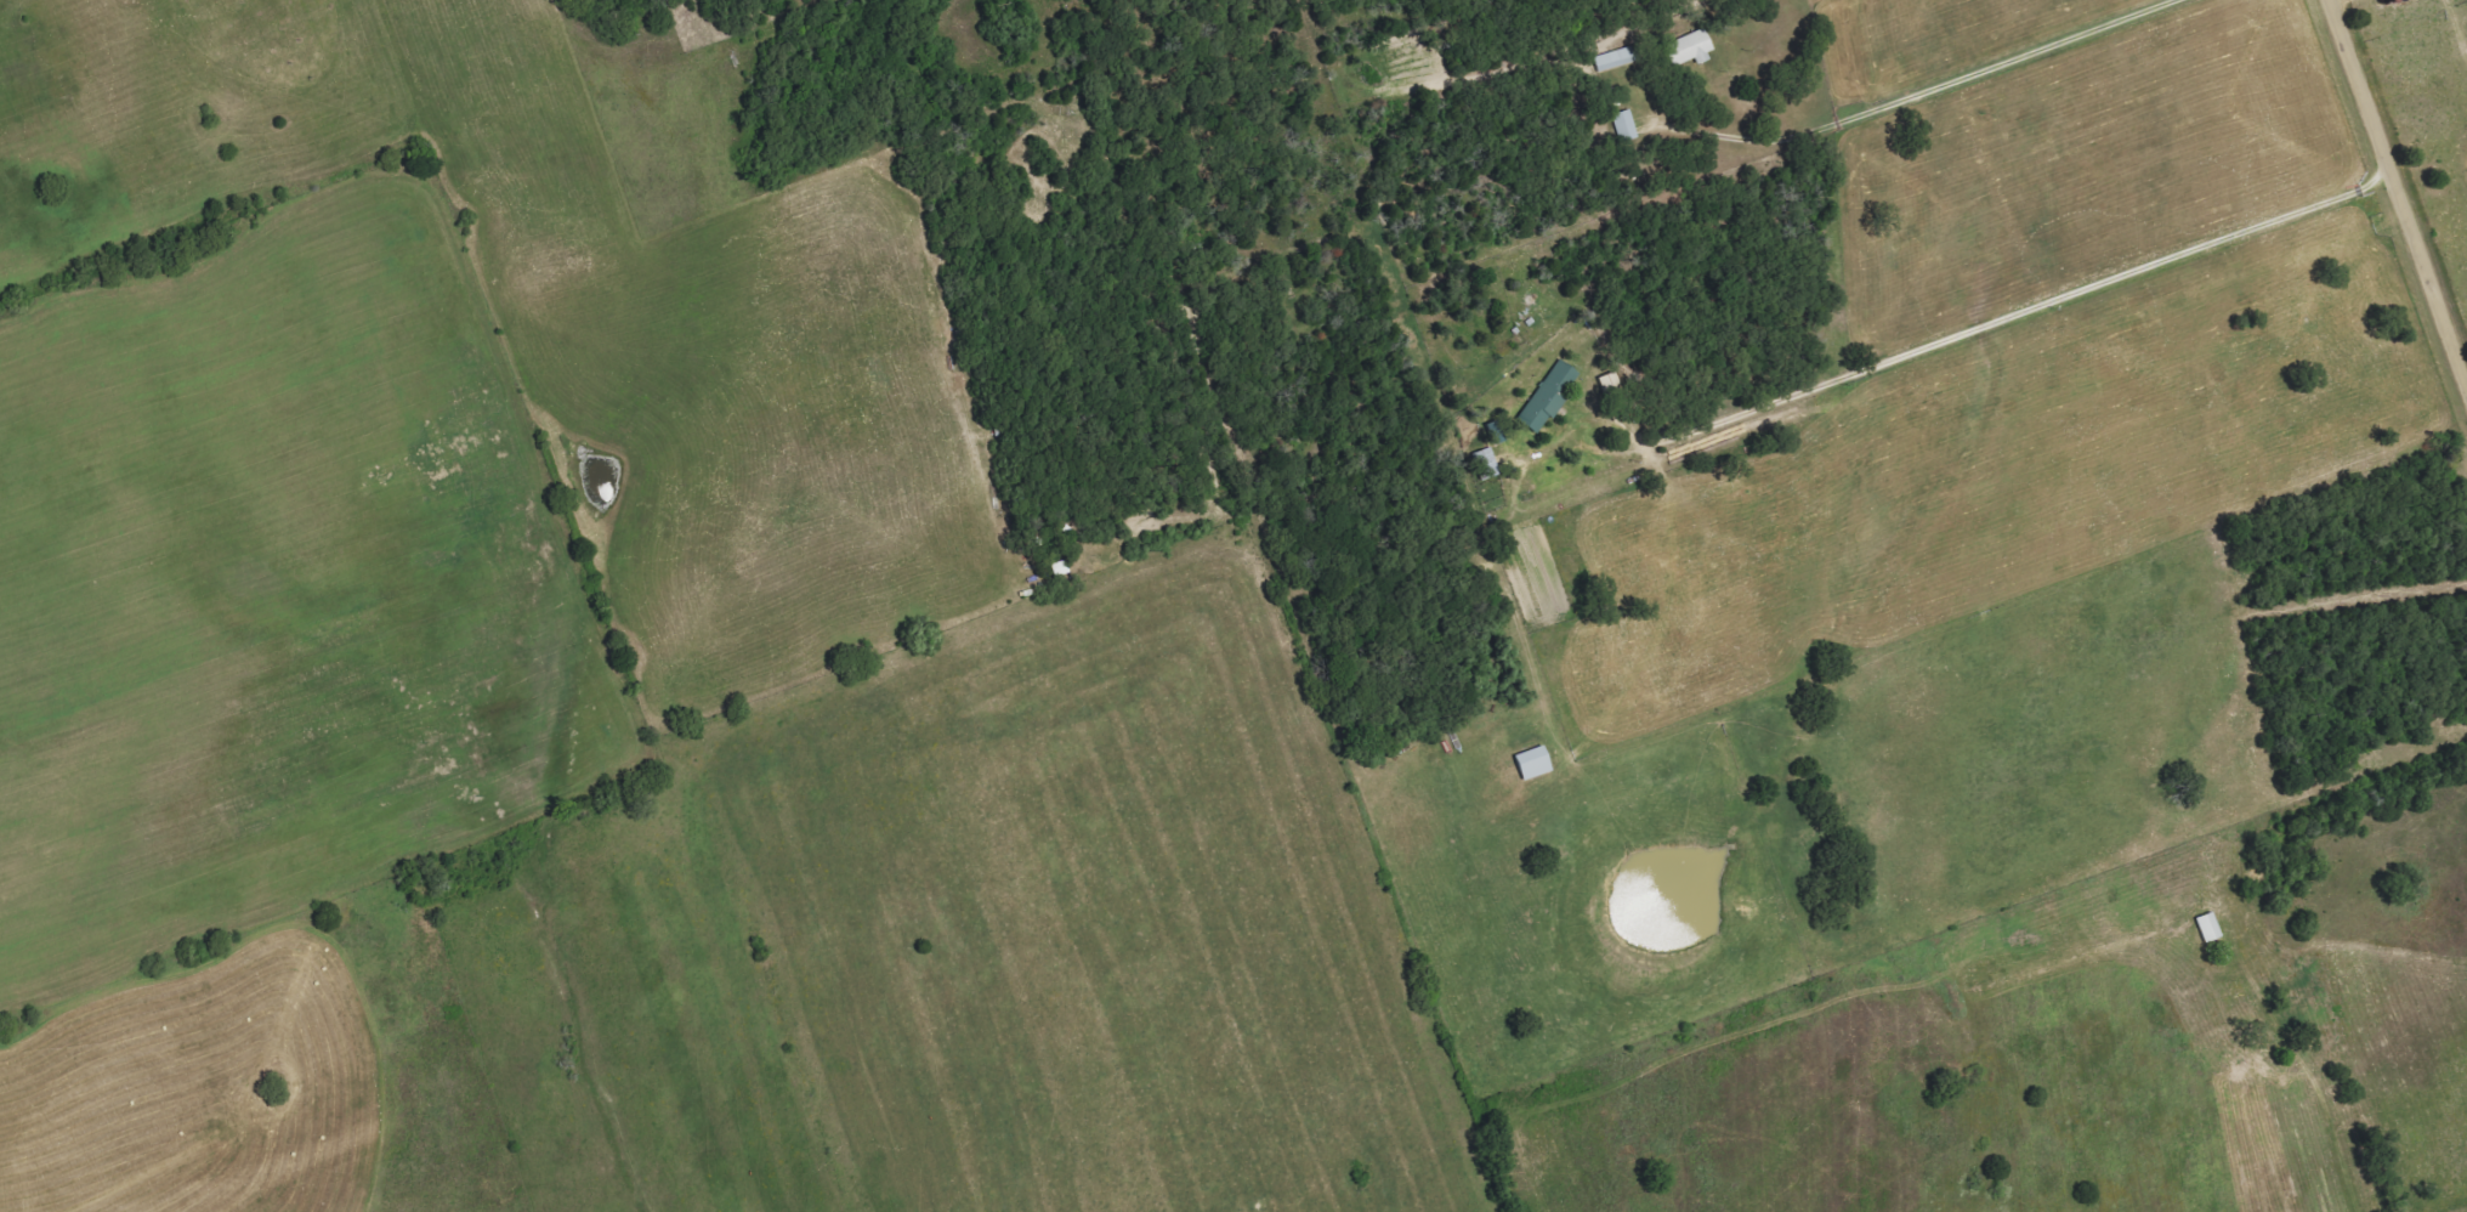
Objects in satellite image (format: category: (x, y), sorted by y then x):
building: (1692, 47)
building: (1618, 58)
road: (1926, 89)
building: (1627, 125)
road: (2398, 204)
road: (2026, 315)
building: (1552, 396)
building: (1487, 464)
road: (2336, 761)
building: (1536, 764)
building: (2211, 928)

